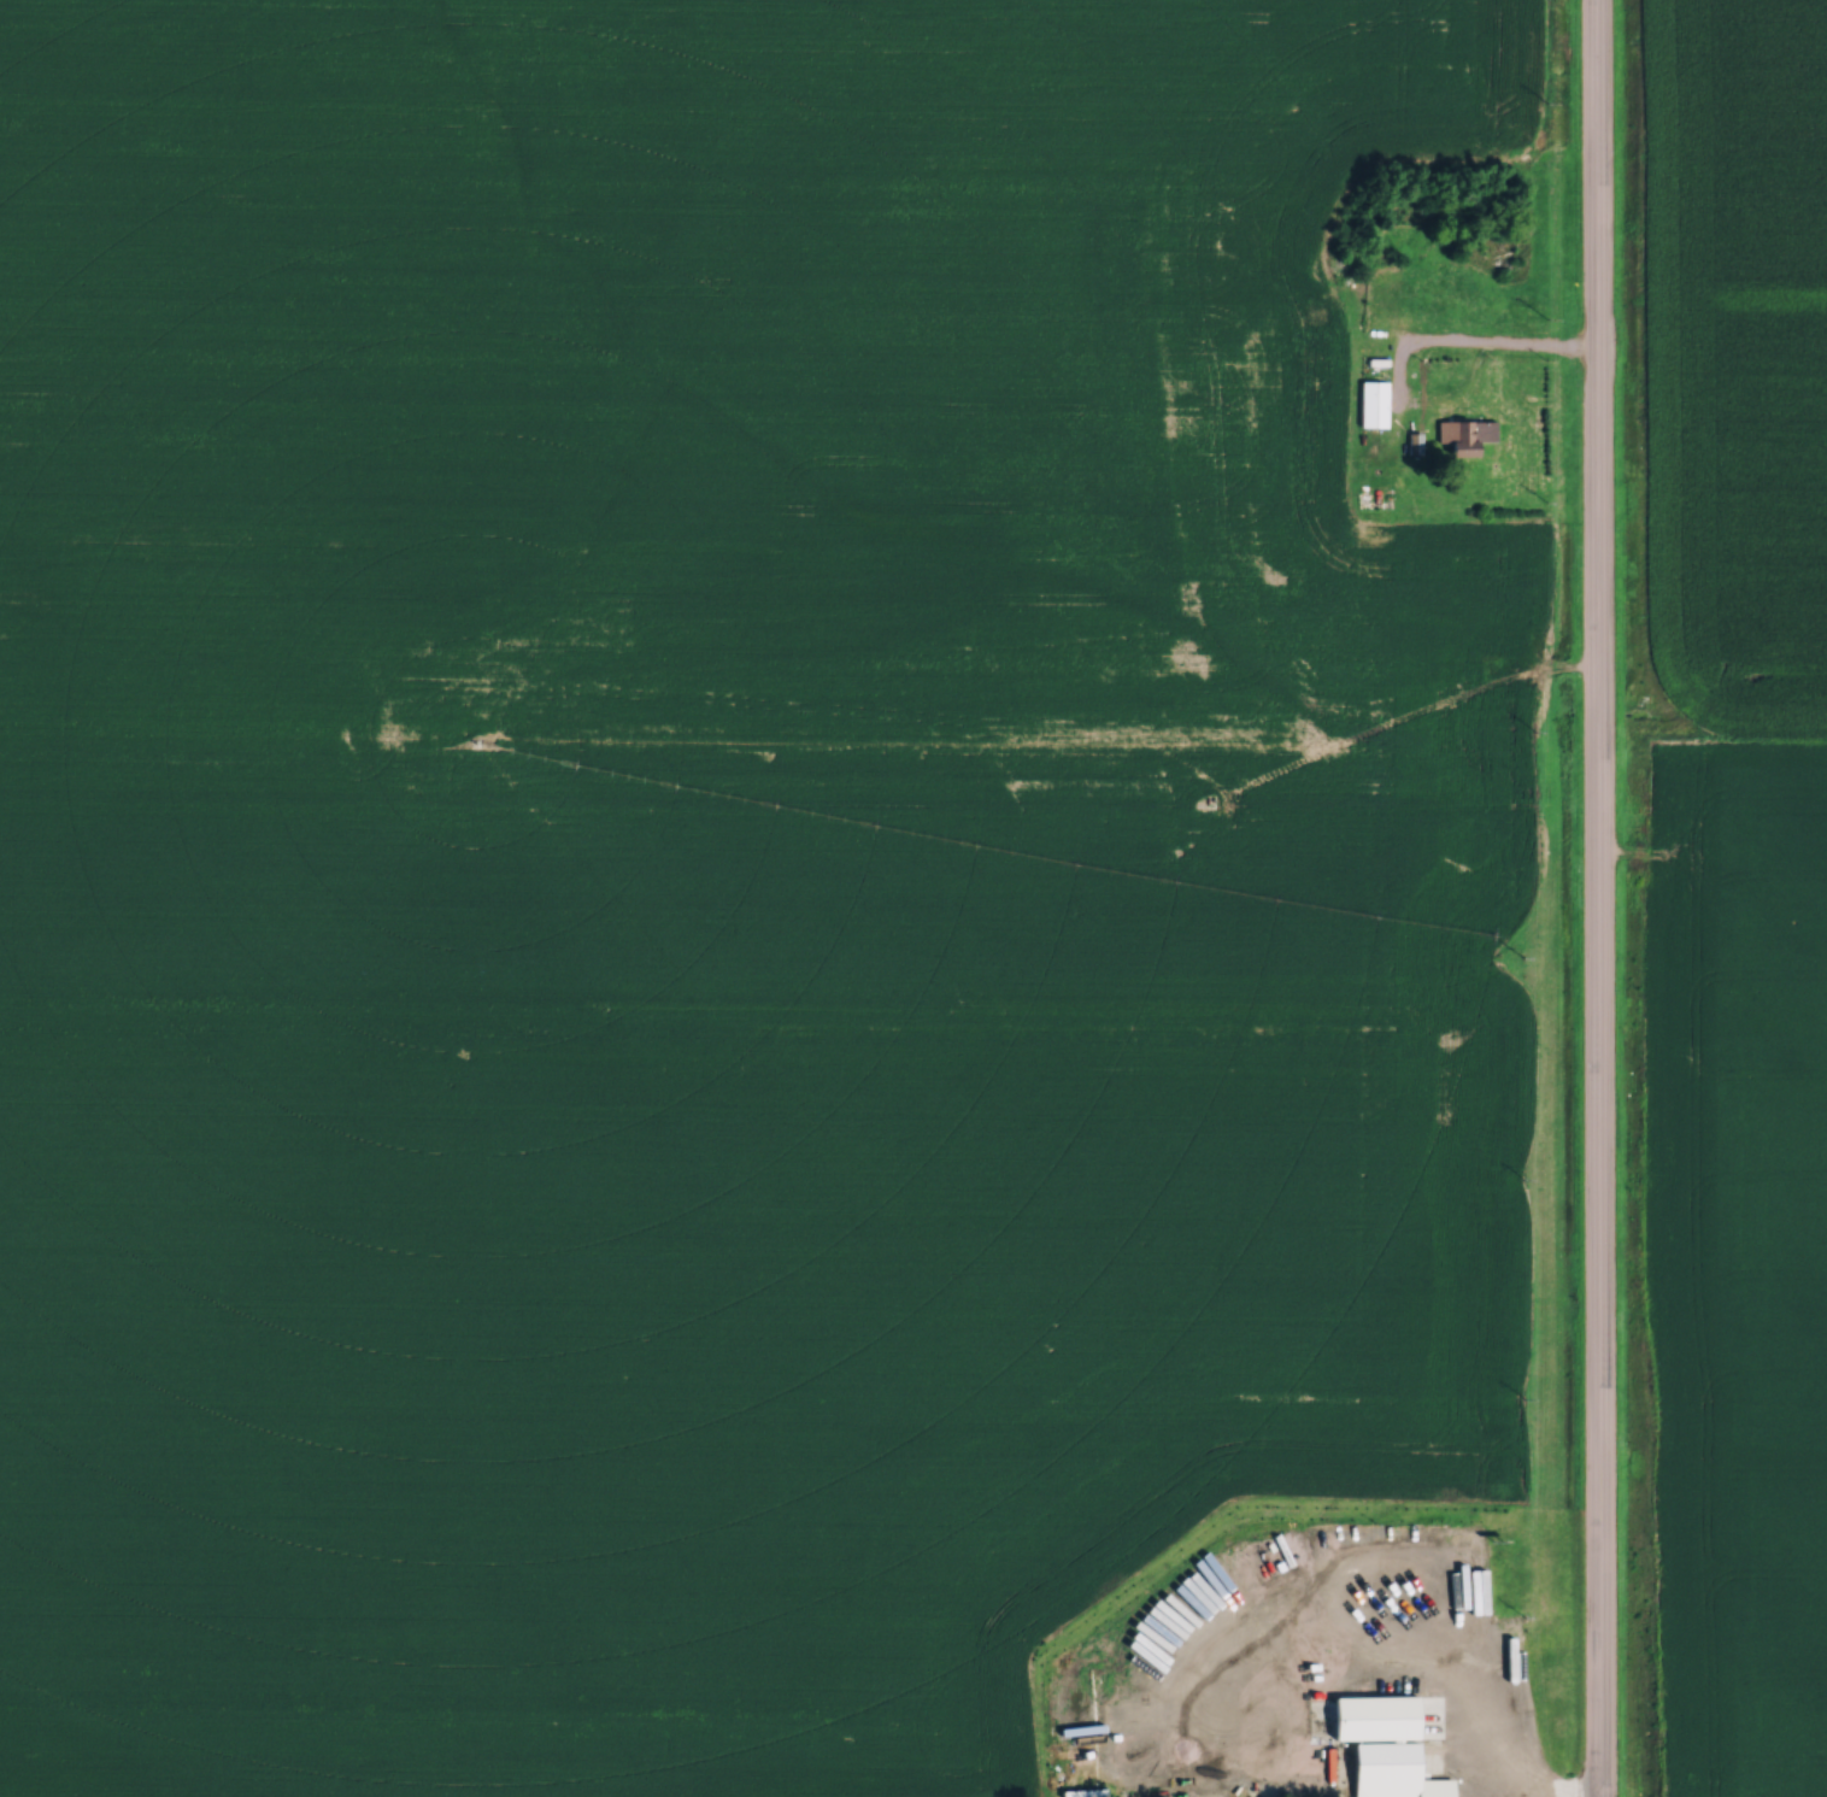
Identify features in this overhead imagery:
road: (1470, 339)
building: (1371, 401)
building: (1459, 435)
road: (1597, 898)
building: (1457, 1558)
road: (1453, 1648)
road: (1405, 1703)
building: (1424, 1760)
building: (1384, 1768)
road: (1487, 1787)

